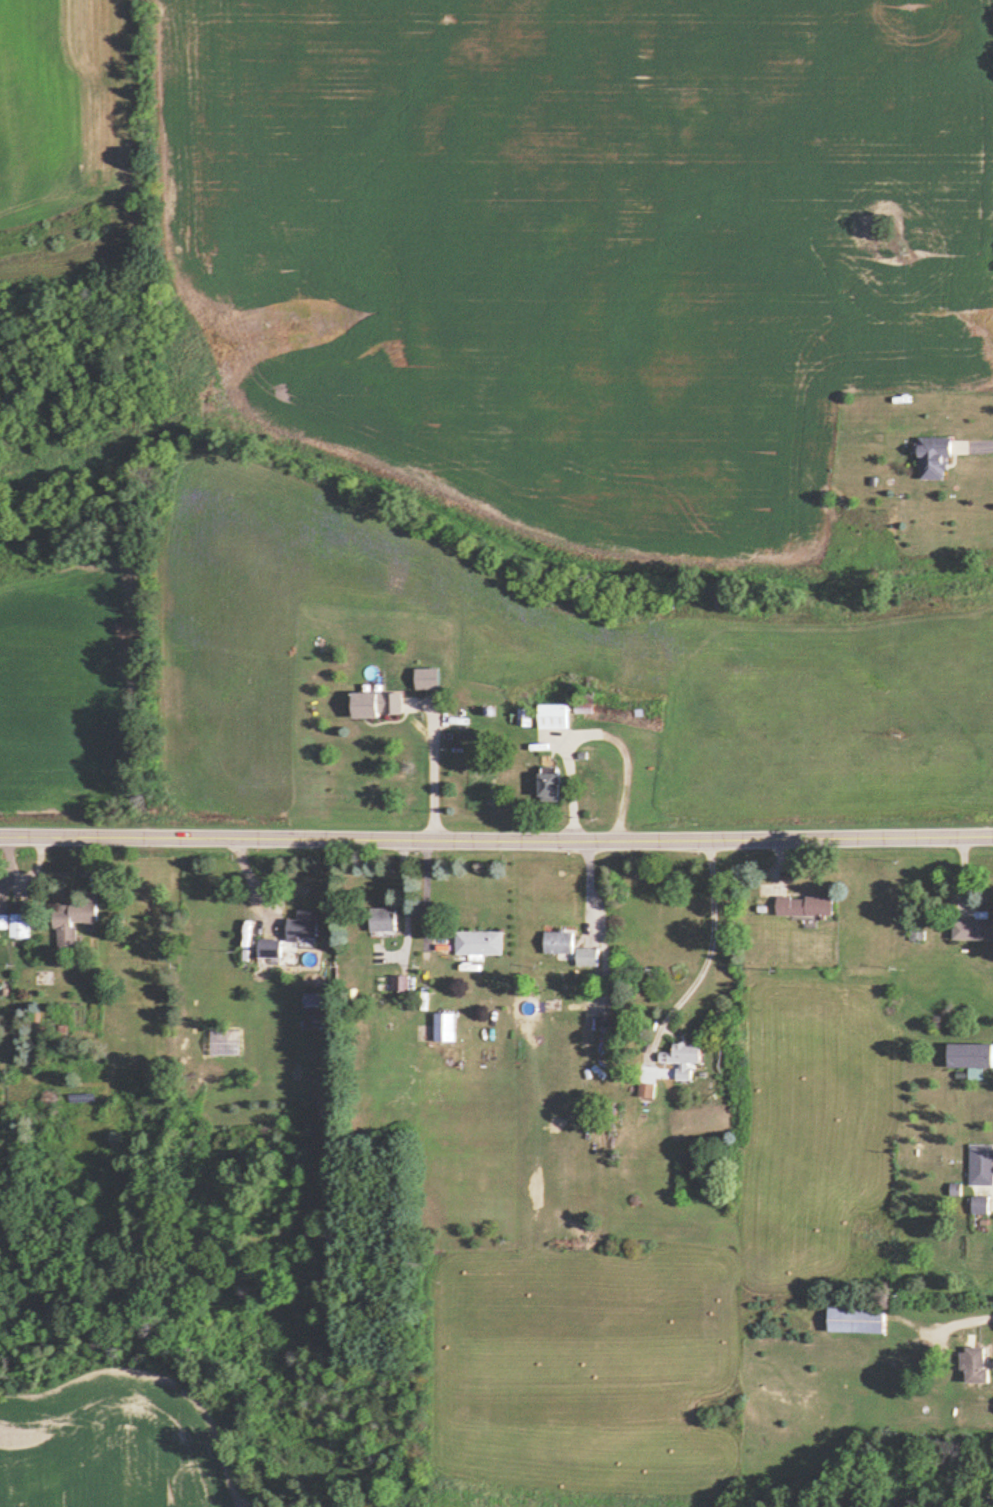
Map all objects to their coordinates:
road: (974, 443)
building: (937, 457)
building: (431, 678)
building: (380, 704)
building: (557, 716)
crop: (830, 725)
road: (596, 730)
road: (434, 771)
building: (552, 784)
road: (496, 836)
road: (428, 889)
road: (589, 889)
road: (406, 895)
building: (804, 905)
building: (384, 920)
building: (74, 922)
building: (20, 924)
building: (304, 926)
building: (973, 929)
building: (479, 942)
building: (558, 942)
building: (269, 947)
road: (705, 955)
building: (586, 957)
building: (316, 1004)
building: (445, 1026)
building: (969, 1055)
building: (681, 1056)
building: (647, 1089)
crop: (812, 1156)
building: (981, 1164)
building: (980, 1205)
building: (860, 1321)
road: (961, 1323)
building: (977, 1365)
crop: (580, 1378)
crop: (107, 1445)

